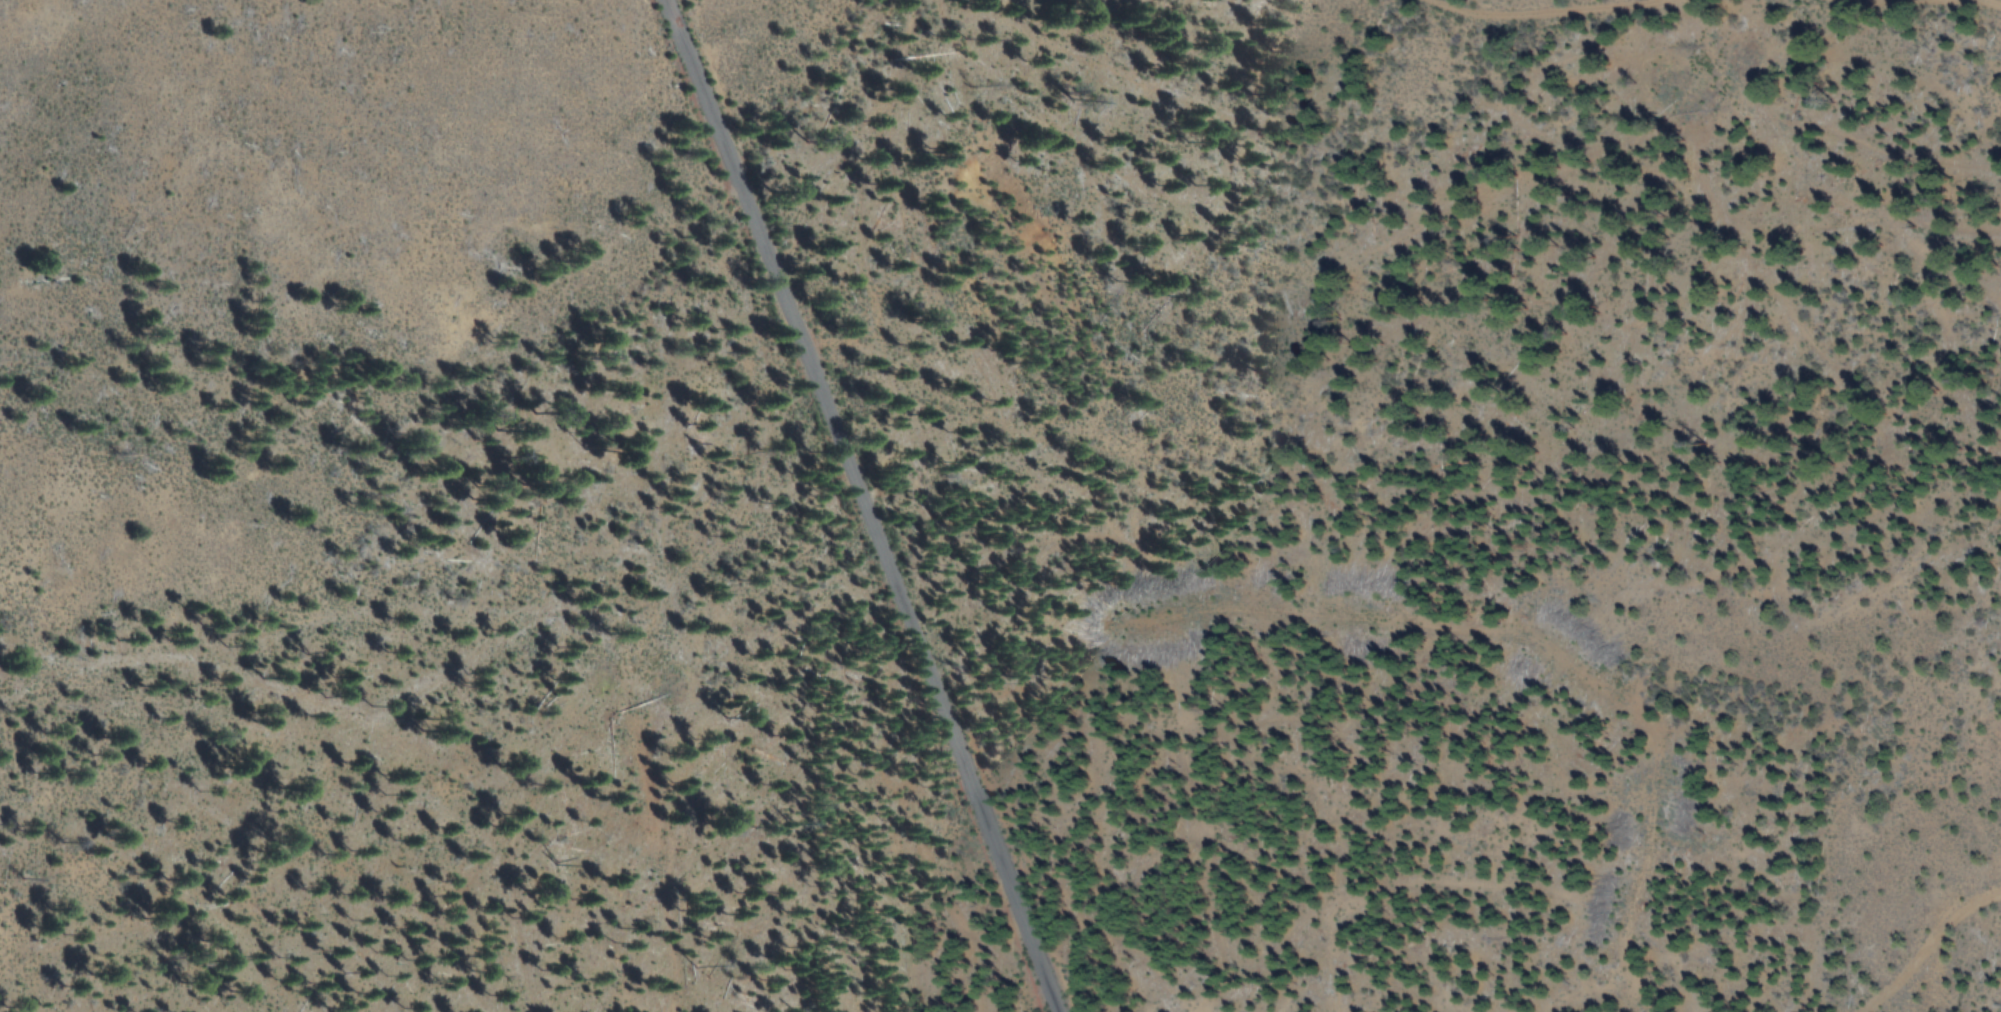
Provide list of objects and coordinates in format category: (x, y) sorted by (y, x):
road: (1974, 3)
road: (1536, 22)
road: (868, 504)
road: (1927, 950)

